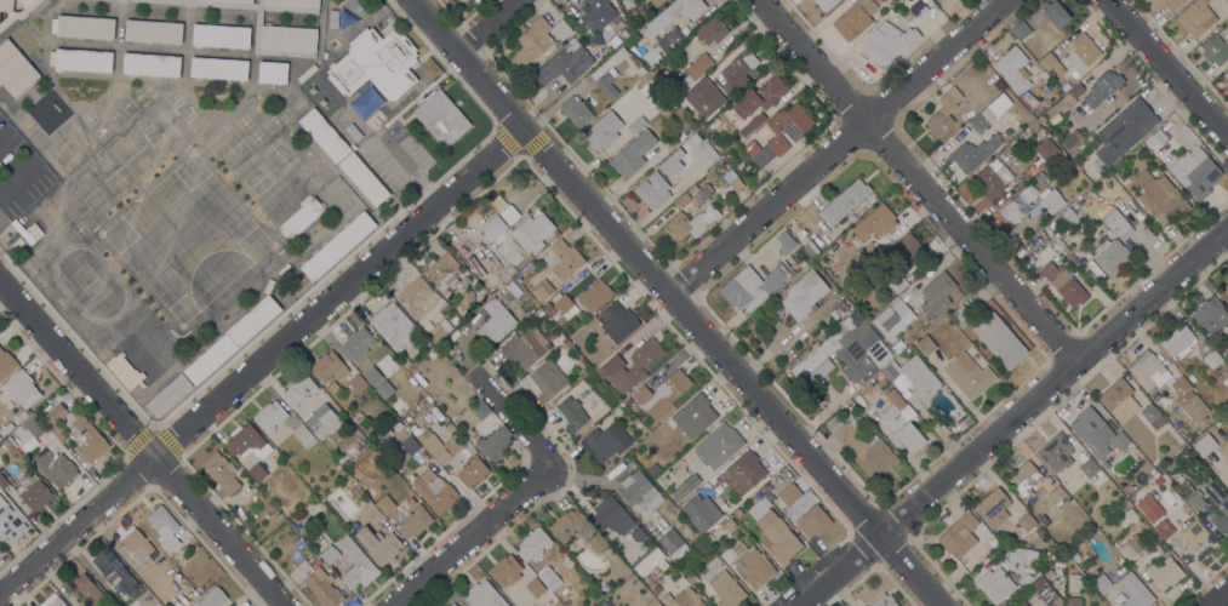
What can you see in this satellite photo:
building: (960, 1)
building: (293, 2)
building: (627, 2)
building: (656, 2)
building: (824, 4)
building: (1169, 4)
building: (950, 6)
building: (16, 10)
building: (675, 13)
building: (1055, 16)
building: (331, 18)
building: (600, 18)
building: (855, 18)
building: (1194, 18)
road: (486, 25)
building: (85, 27)
building: (153, 32)
building: (560, 32)
building: (624, 32)
building: (712, 32)
building: (1021, 32)
building: (221, 36)
building: (257, 36)
building: (289, 39)
building: (670, 40)
building: (532, 41)
building: (629, 41)
building: (1034, 41)
building: (887, 44)
building: (1215, 50)
building: (1039, 51)
building: (1081, 53)
building: (619, 55)
building: (659, 55)
building: (82, 61)
building: (703, 62)
building: (564, 63)
building: (152, 64)
building: (375, 64)
building: (1050, 64)
building: (219, 68)
building: (1012, 68)
building: (15, 69)
road: (1167, 70)
building: (273, 72)
building: (640, 72)
building: (738, 72)
building: (1226, 75)
building: (607, 82)
building: (699, 85)
building: (1103, 87)
building: (759, 97)
building: (1069, 98)
building: (1028, 99)
building: (593, 101)
building: (364, 104)
building: (690, 109)
building: (332, 110)
building: (575, 110)
building: (989, 113)
building: (943, 114)
building: (441, 118)
building: (752, 124)
building: (636, 125)
building: (602, 131)
building: (1043, 132)
building: (1123, 132)
building: (324, 135)
building: (1161, 136)
building: (794, 137)
building: (1070, 139)
building: (7, 142)
road: (834, 147)
building: (1045, 149)
building: (703, 153)
building: (972, 153)
building: (632, 154)
building: (672, 162)
building: (1195, 172)
building: (364, 178)
building: (992, 178)
road: (918, 179)
building: (732, 181)
building: (652, 190)
building: (32, 191)
building: (695, 198)
building: (1160, 198)
building: (1050, 200)
building: (845, 201)
building: (1018, 204)
building: (301, 218)
building: (1068, 218)
building: (880, 219)
building: (692, 222)
building: (1116, 223)
building: (1053, 225)
building: (27, 231)
building: (515, 233)
building: (555, 233)
building: (784, 242)
building: (456, 248)
building: (811, 248)
building: (1062, 248)
building: (333, 250)
building: (907, 252)
building: (868, 253)
building: (1110, 256)
building: (562, 259)
building: (513, 262)
building: (444, 274)
building: (521, 276)
building: (897, 284)
building: (1064, 284)
building: (753, 286)
building: (1226, 288)
building: (539, 292)
building: (482, 295)
building: (804, 295)
building: (937, 295)
building: (594, 296)
building: (417, 297)
building: (464, 299)
road: (676, 304)
building: (562, 307)
building: (548, 308)
building: (539, 313)
building: (834, 313)
building: (892, 316)
building: (961, 316)
building: (1211, 316)
building: (253, 320)
building: (617, 321)
building: (495, 322)
building: (394, 327)
building: (438, 331)
building: (999, 341)
building: (1178, 342)
building: (356, 343)
building: (566, 344)
building: (895, 344)
building: (926, 344)
building: (858, 347)
building: (525, 348)
building: (210, 359)
building: (644, 359)
building: (1212, 359)
building: (405, 361)
building: (807, 362)
building: (6, 364)
road: (261, 364)
building: (329, 367)
building: (1148, 370)
building: (124, 371)
building: (613, 371)
building: (1216, 373)
building: (914, 375)
building: (372, 376)
building: (967, 376)
building: (548, 379)
building: (358, 383)
building: (1098, 385)
building: (1181, 385)
building: (333, 387)
building: (379, 388)
building: (22, 389)
building: (299, 389)
building: (662, 394)
building: (169, 395)
building: (1119, 400)
building: (628, 401)
building: (429, 405)
building: (1194, 407)
building: (480, 410)
building: (617, 411)
building: (571, 415)
building: (270, 416)
building: (423, 416)
building: (693, 416)
road: (1012, 416)
building: (356, 417)
building: (1153, 417)
building: (1226, 417)
building: (56, 421)
building: (321, 421)
building: (901, 422)
building: (32, 425)
building: (413, 429)
road: (509, 430)
building: (1096, 433)
building: (304, 435)
building: (50, 436)
building: (87, 440)
building: (246, 442)
building: (407, 442)
building: (493, 442)
building: (605, 442)
road: (142, 445)
building: (359, 445)
building: (718, 445)
building: (1204, 445)
building: (436, 446)
building: (862, 447)
building: (353, 450)
building: (1056, 453)
building: (1164, 457)
building: (1, 461)
building: (343, 462)
building: (1106, 464)
building: (1156, 464)
building: (1087, 467)
building: (55, 468)
building: (1172, 468)
building: (652, 469)
building: (746, 470)
building: (221, 471)
building: (473, 471)
building: (257, 473)
building: (786, 474)
building: (1227, 476)
building: (1024, 479)
building: (1158, 480)
building: (2, 481)
building: (685, 487)
building: (766, 488)
building: (640, 491)
building: (34, 492)
building: (370, 492)
building: (435, 492)
building: (724, 493)
building: (1187, 493)
building: (788, 494)
building: (758, 496)
building: (1057, 496)
building: (770, 497)
building: (384, 505)
building: (1217, 507)
building: (993, 508)
building: (1149, 508)
building: (1184, 508)
building: (269, 509)
building: (701, 511)
building: (737, 513)
building: (1129, 513)
building: (371, 514)
building: (610, 516)
building: (1118, 518)
building: (10, 521)
building: (813, 521)
building: (162, 522)
building: (415, 522)
building: (1027, 522)
building: (566, 525)
building: (727, 525)
building: (1163, 528)
building: (775, 533)
building: (638, 534)
building: (959, 536)
building: (709, 538)
road: (472, 539)
building: (1196, 543)
building: (137, 544)
building: (379, 544)
building: (533, 544)
building: (673, 544)
building: (599, 545)
building: (1131, 547)
building: (322, 548)
building: (1050, 548)
building: (1050, 555)
building: (1074, 556)
building: (1019, 558)
building: (650, 561)
building: (1061, 561)
building: (356, 565)
building: (752, 565)
building: (506, 571)
building: (656, 571)
building: (689, 573)
building: (1164, 573)
building: (114, 574)
building: (622, 574)
building: (177, 576)
building: (649, 577)
building: (548, 578)
building: (1075, 583)
building: (1102, 583)
building: (319, 584)
building: (995, 584)
building: (535, 587)
building: (656, 588)
building: (1041, 588)
building: (85, 589)
building: (727, 590)
building: (1135, 590)
building: (189, 595)
building: (484, 595)
building: (212, 598)
road: (1218, 598)
building: (682, 599)
building: (52, 600)
building: (883, 600)
building: (1073, 601)
building: (652, 602)
building: (1023, 604)
building: (452, 605)
building: (605, 605)

